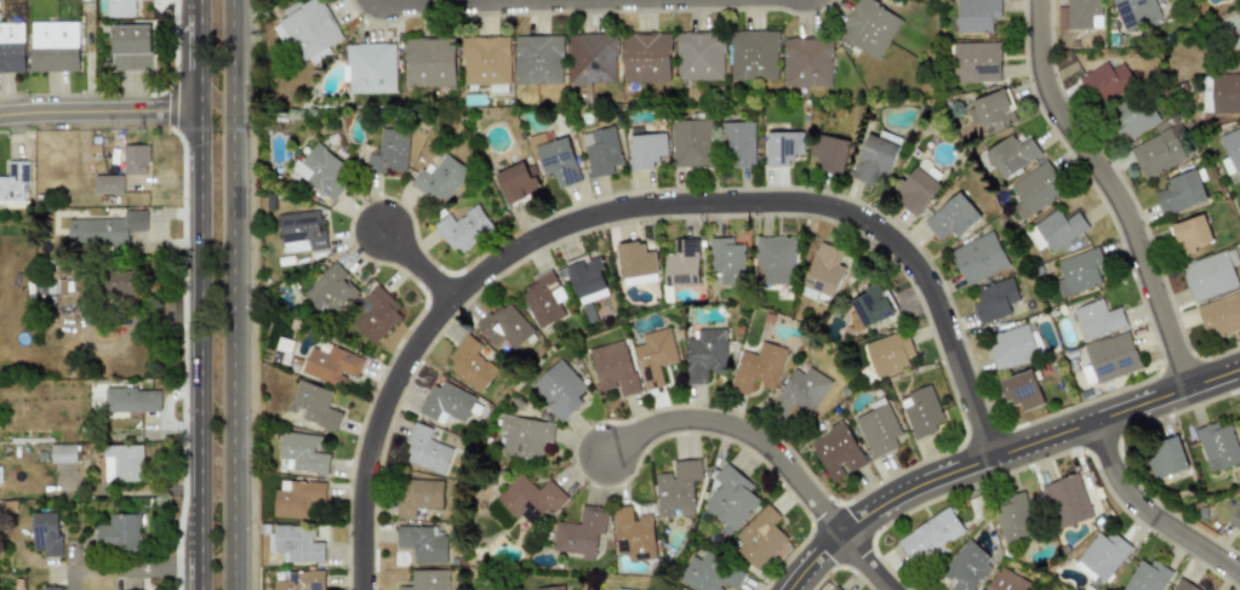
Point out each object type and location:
road: (458, 2)
building: (121, 8)
road: (198, 8)
building: (1135, 12)
building: (1084, 13)
building: (976, 15)
building: (868, 27)
building: (308, 30)
building: (55, 46)
building: (12, 47)
building: (131, 47)
building: (753, 55)
building: (699, 56)
building: (592, 57)
building: (645, 57)
building: (538, 59)
building: (486, 61)
road: (199, 62)
building: (430, 62)
building: (806, 62)
building: (976, 62)
building: (371, 68)
building: (1105, 81)
road: (99, 109)
building: (990, 109)
building: (1132, 118)
building: (691, 142)
building: (738, 143)
building: (783, 147)
building: (1232, 148)
building: (600, 150)
building: (647, 150)
building: (389, 151)
building: (829, 153)
building: (1156, 153)
building: (1010, 154)
building: (875, 156)
building: (554, 157)
building: (135, 159)
building: (319, 171)
building: (441, 178)
building: (13, 182)
building: (516, 182)
building: (108, 184)
building: (915, 190)
building: (1033, 190)
road: (1112, 190)
building: (1179, 191)
road: (624, 208)
building: (950, 217)
building: (464, 228)
building: (1059, 228)
building: (105, 229)
building: (301, 231)
building: (1190, 234)
building: (978, 258)
road: (407, 259)
building: (727, 259)
building: (775, 260)
building: (682, 263)
building: (1079, 270)
building: (823, 271)
building: (1210, 274)
building: (587, 277)
building: (124, 283)
building: (331, 291)
road: (233, 294)
building: (543, 299)
building: (994, 299)
building: (872, 304)
building: (375, 315)
building: (1219, 315)
building: (1097, 319)
building: (505, 326)
building: (1011, 346)
road: (200, 348)
building: (888, 353)
building: (705, 354)
building: (655, 356)
building: (1109, 359)
building: (331, 365)
building: (470, 365)
building: (615, 367)
building: (758, 367)
building: (559, 389)
building: (801, 391)
building: (132, 400)
building: (446, 402)
building: (313, 405)
building: (920, 411)
road: (733, 425)
building: (878, 430)
building: (524, 436)
building: (1217, 446)
building: (427, 451)
building: (63, 453)
building: (302, 453)
building: (838, 453)
road: (996, 456)
building: (1166, 457)
building: (124, 463)
building: (676, 488)
building: (417, 496)
building: (298, 498)
building: (730, 498)
building: (530, 499)
building: (1068, 500)
building: (1013, 517)
building: (1235, 517)
road: (1145, 521)
building: (120, 532)
building: (581, 532)
building: (48, 533)
building: (633, 534)
building: (928, 534)
building: (759, 537)
building: (296, 543)
building: (423, 543)
building: (1102, 555)
road: (859, 559)
road: (138, 566)
building: (965, 568)
building: (710, 573)
building: (1145, 577)
building: (427, 579)
building: (302, 580)
building: (1005, 580)
building: (1182, 585)
building: (52, 588)
building: (550, 588)
building: (835, 588)
building: (621, 589)
building: (1039, 589)

